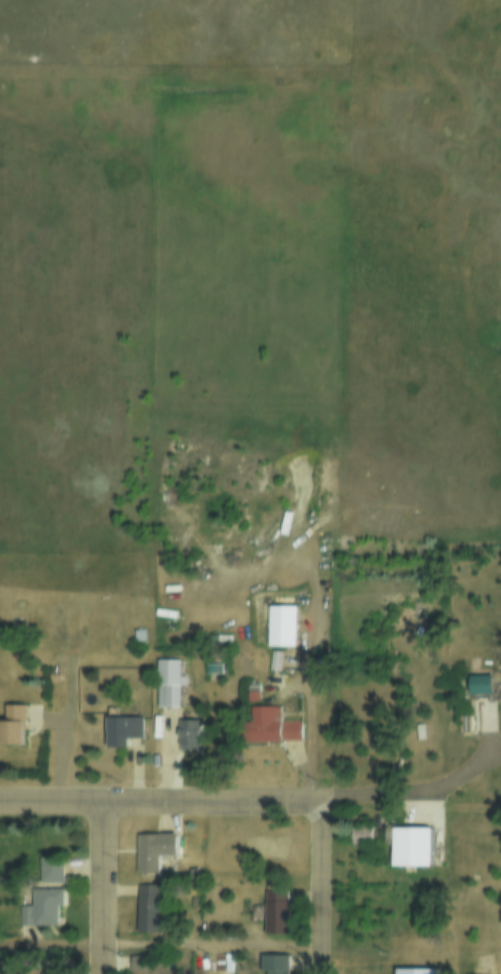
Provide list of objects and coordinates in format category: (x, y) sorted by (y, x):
building: (278, 630)
building: (136, 637)
building: (273, 665)
building: (478, 684)
building: (166, 687)
building: (249, 699)
building: (10, 726)
building: (265, 729)
building: (119, 736)
building: (186, 738)
road: (440, 789)
road: (163, 794)
building: (359, 835)
building: (410, 850)
building: (150, 856)
building: (190, 876)
road: (106, 883)
road: (327, 884)
building: (40, 895)
building: (146, 913)
building: (275, 913)
road: (163, 945)
building: (223, 962)
building: (272, 964)
building: (134, 965)
building: (50, 971)
building: (413, 973)

